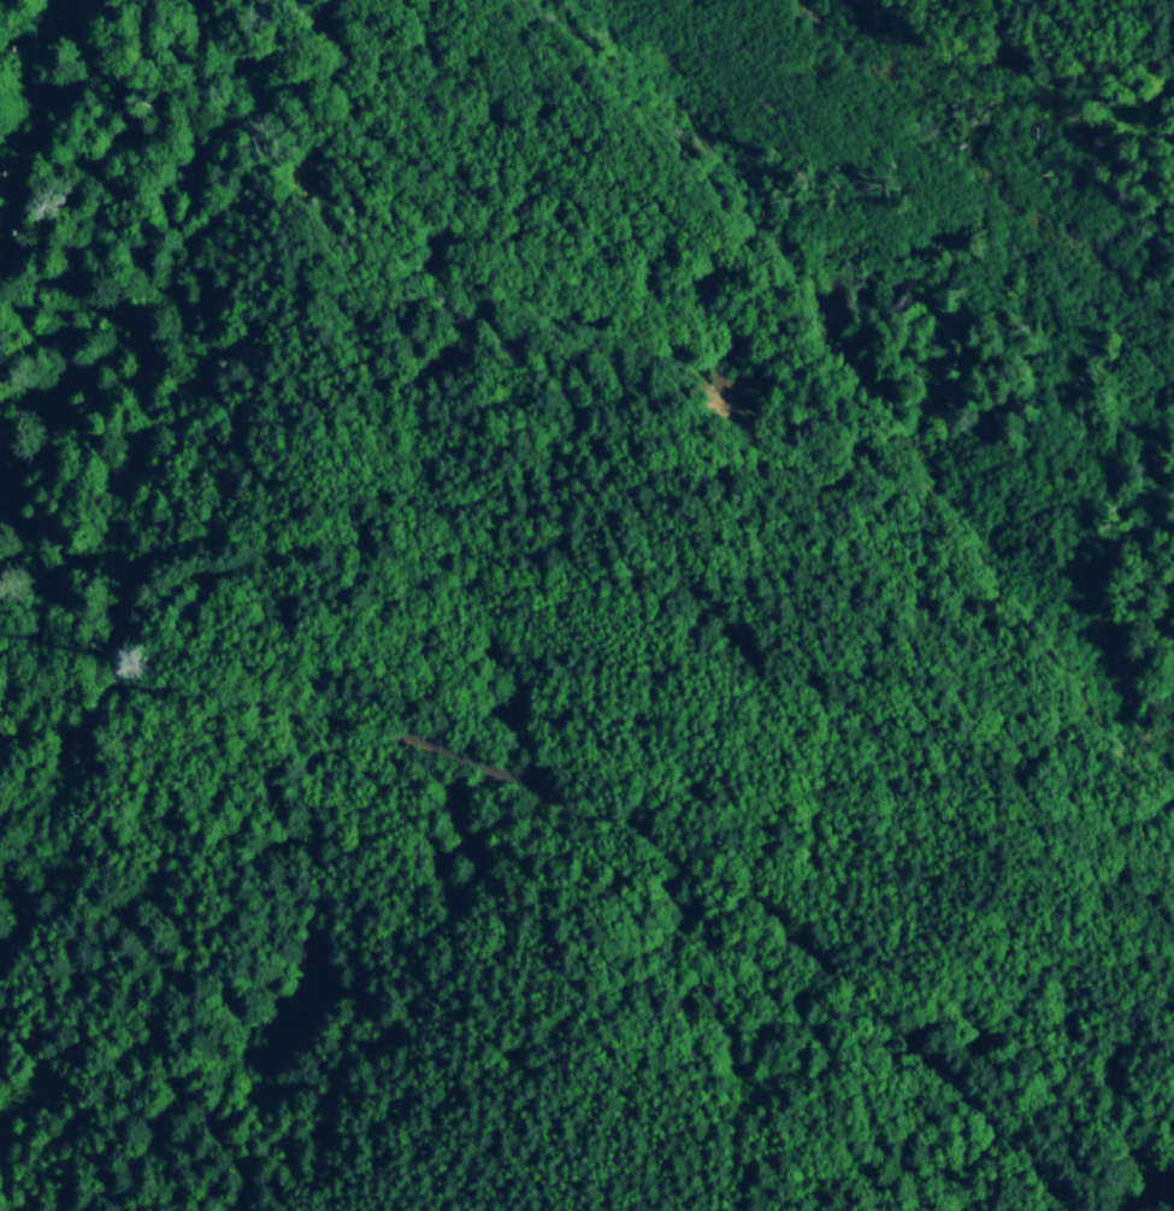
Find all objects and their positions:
road: (10, 305)
road: (200, 439)
road: (604, 823)

